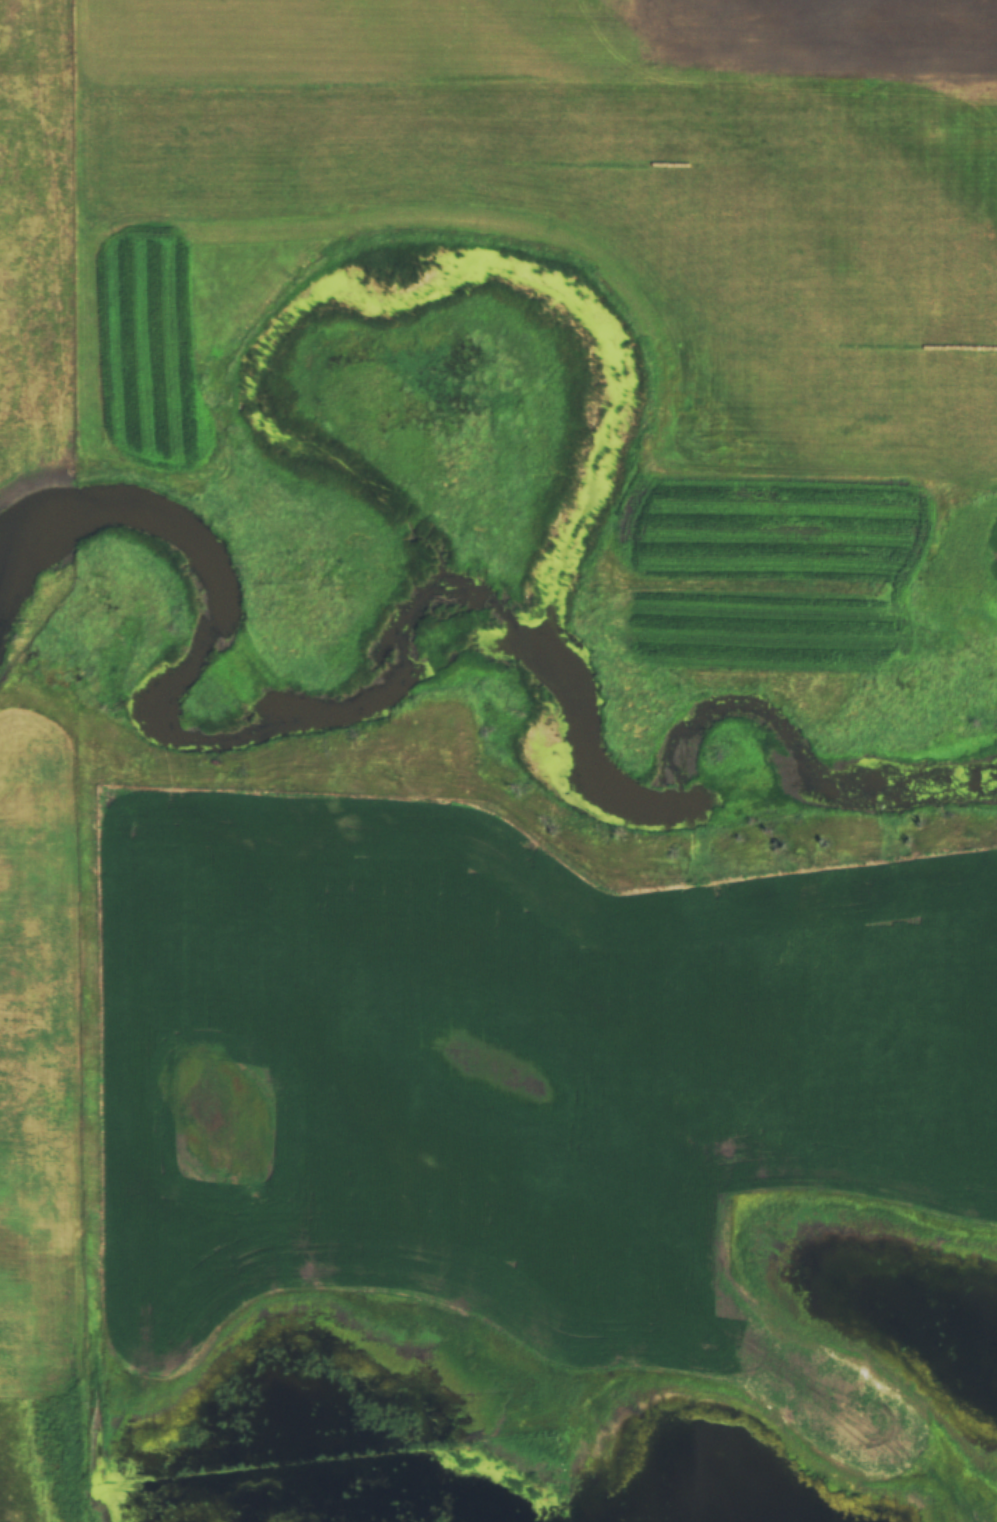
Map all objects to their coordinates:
river: (447, 624)

